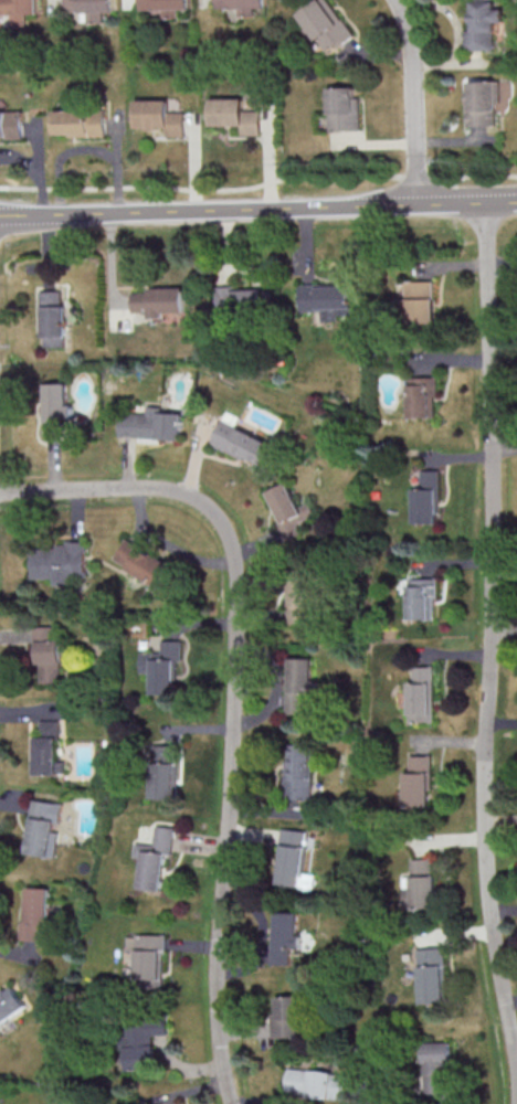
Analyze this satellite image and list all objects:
road: (209, 2)
road: (134, 4)
road: (60, 7)
building: (170, 7)
building: (246, 7)
building: (94, 10)
road: (454, 10)
building: (20, 12)
building: (330, 26)
building: (489, 28)
road: (384, 52)
road: (458, 62)
road: (419, 100)
building: (490, 105)
building: (352, 112)
building: (241, 116)
building: (165, 117)
building: (13, 125)
building: (85, 126)
road: (463, 140)
road: (379, 141)
road: (66, 155)
road: (22, 157)
road: (275, 159)
road: (200, 161)
road: (125, 164)
road: (43, 166)
road: (257, 184)
road: (257, 210)
building: (241, 297)
building: (326, 299)
building: (157, 300)
building: (420, 301)
building: (52, 319)
building: (422, 396)
building: (55, 407)
building: (151, 424)
building: (240, 439)
building: (426, 498)
building: (291, 510)
building: (59, 561)
building: (143, 562)
building: (421, 597)
building: (300, 601)
road: (493, 643)
building: (48, 655)
building: (162, 666)
building: (299, 683)
building: (421, 694)
road: (234, 696)
building: (48, 750)
building: (163, 771)
building: (298, 771)
building: (418, 781)
building: (43, 827)
building: (154, 857)
building: (294, 860)
building: (420, 884)
building: (35, 912)
building: (285, 935)
building: (148, 959)
building: (431, 975)
building: (10, 1002)
building: (288, 1017)
building: (434, 1068)
building: (317, 1083)

